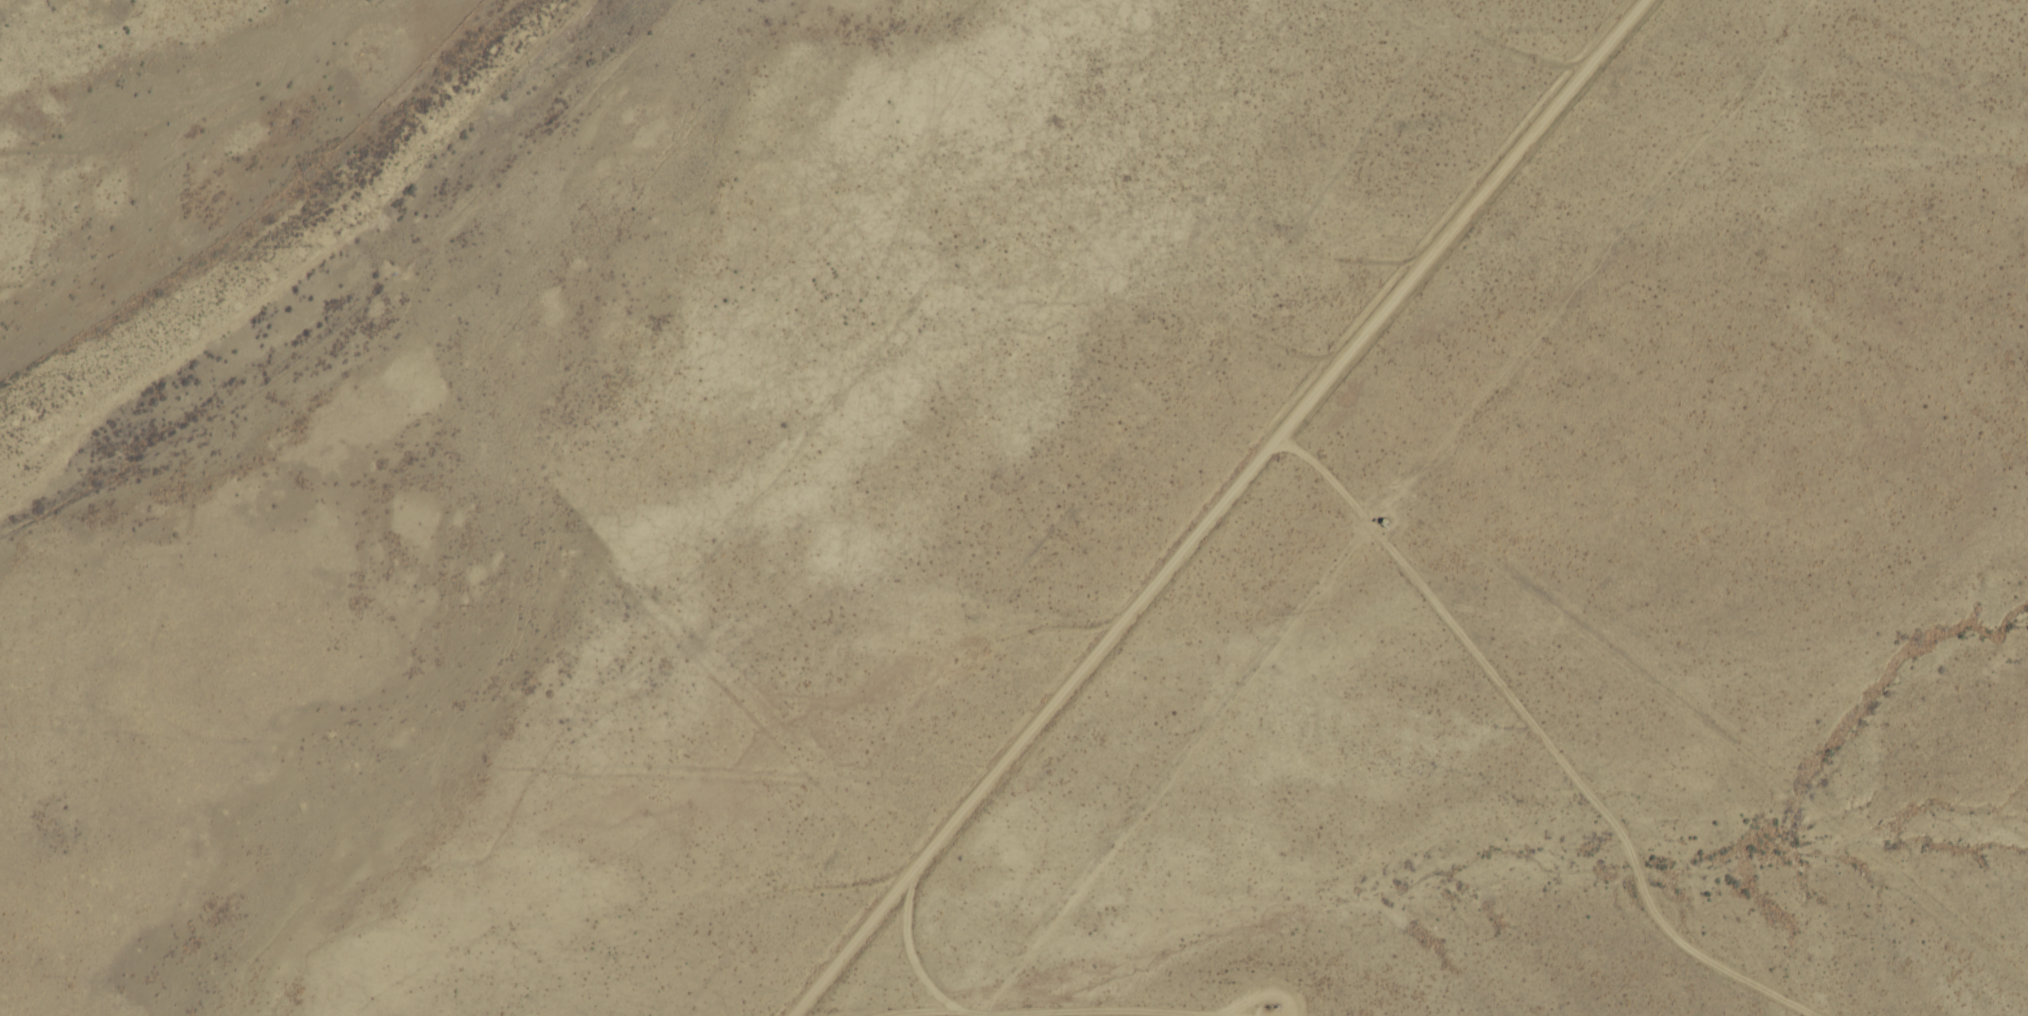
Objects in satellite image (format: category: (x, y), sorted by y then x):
road: (1216, 507)
road: (1550, 737)
road: (912, 949)
road: (1274, 981)
road: (1048, 1006)
road: (1239, 1014)

